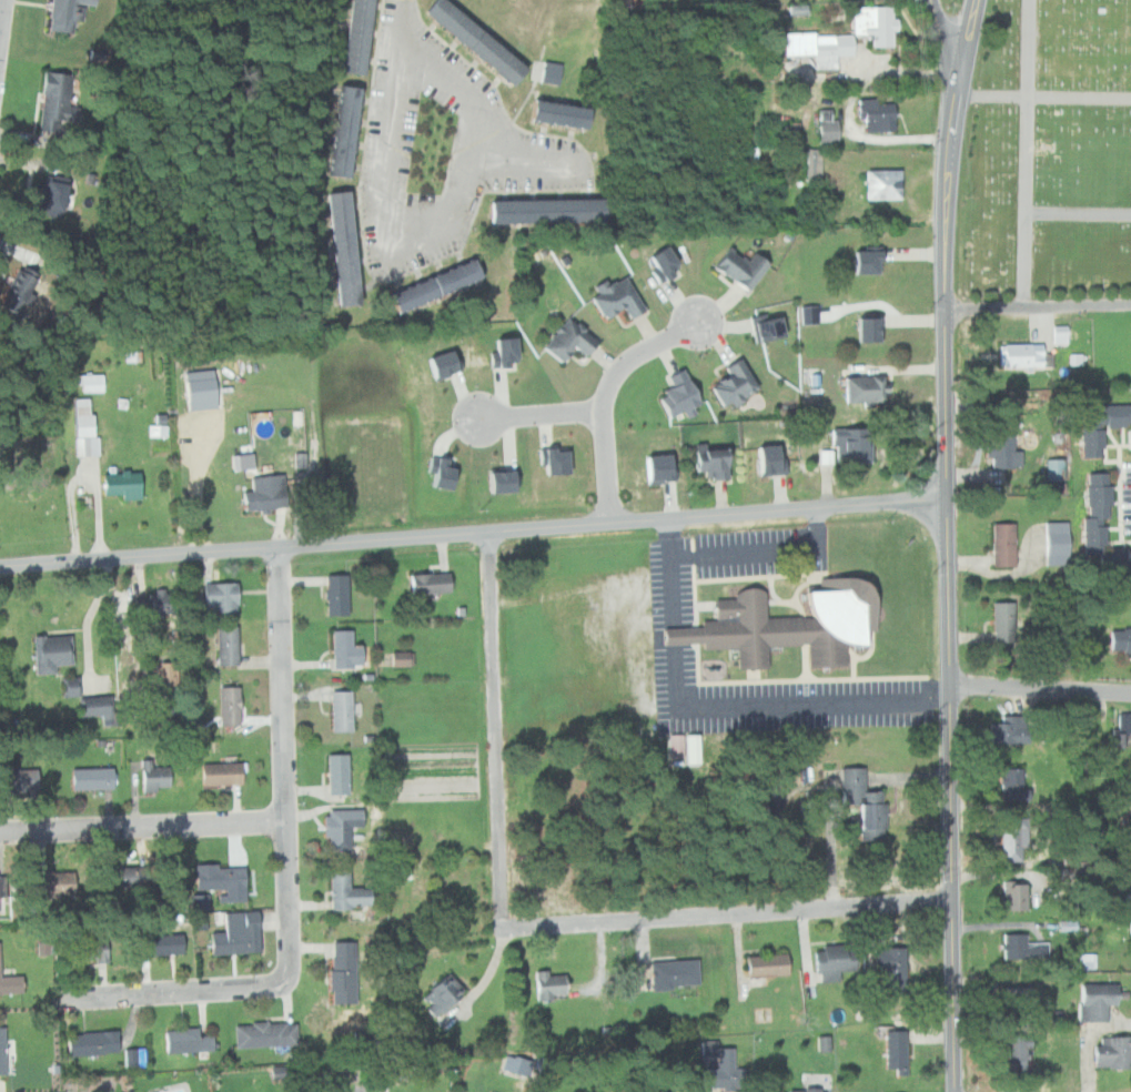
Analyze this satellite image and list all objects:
building: (68, 12)
road: (1, 17)
building: (881, 23)
road: (398, 24)
building: (357, 33)
road: (946, 38)
building: (478, 39)
building: (820, 48)
building: (552, 72)
road: (1042, 95)
building: (57, 101)
building: (562, 112)
building: (880, 114)
building: (829, 125)
building: (346, 127)
road: (1029, 153)
park: (1050, 156)
road: (521, 161)
building: (816, 164)
building: (886, 183)
building: (57, 193)
building: (551, 210)
road: (1079, 213)
road: (426, 243)
building: (345, 247)
building: (658, 262)
building: (861, 262)
building: (735, 267)
building: (441, 283)
building: (20, 289)
building: (614, 299)
road: (1040, 306)
building: (806, 314)
building: (765, 327)
building: (864, 330)
building: (1062, 334)
building: (566, 340)
building: (498, 351)
building: (1021, 355)
building: (1073, 358)
building: (441, 363)
building: (94, 382)
building: (730, 383)
building: (206, 388)
building: (861, 388)
building: (675, 394)
road: (604, 397)
road: (541, 415)
building: (88, 427)
building: (1104, 427)
building: (161, 431)
building: (848, 446)
building: (1003, 451)
building: (760, 459)
building: (246, 461)
building: (551, 462)
building: (707, 462)
building: (650, 468)
building: (1058, 468)
building: (438, 474)
building: (493, 482)
building: (129, 484)
road: (198, 484)
building: (271, 493)
building: (1102, 524)
road: (474, 533)
building: (1060, 542)
road: (949, 544)
building: (1007, 544)
road: (764, 550)
road: (671, 572)
building: (425, 583)
building: (342, 595)
building: (226, 597)
building: (162, 601)
building: (1006, 621)
building: (782, 624)
road: (676, 634)
building: (1121, 640)
building: (232, 646)
building: (342, 648)
building: (55, 653)
building: (1068, 655)
building: (398, 657)
building: (129, 664)
building: (170, 674)
building: (74, 687)
road: (1041, 687)
building: (226, 704)
road: (786, 704)
building: (101, 707)
building: (337, 709)
building: (1010, 728)
building: (1123, 729)
building: (689, 747)
building: (673, 750)
building: (218, 772)
building: (334, 772)
building: (151, 775)
building: (90, 777)
building: (17, 779)
building: (1016, 783)
building: (781, 785)
building: (864, 802)
building: (1130, 802)
building: (1092, 819)
building: (337, 825)
road: (141, 830)
building: (1017, 842)
road: (284, 872)
building: (108, 874)
building: (218, 880)
building: (49, 881)
building: (30, 883)
building: (344, 890)
building: (1013, 894)
building: (198, 900)
building: (1064, 923)
road: (532, 927)
building: (233, 933)
building: (156, 943)
building: (1023, 946)
building: (83, 949)
building: (337, 949)
building: (836, 960)
building: (1085, 960)
building: (770, 964)
building: (893, 965)
building: (677, 972)
building: (9, 983)
building: (547, 983)
building: (339, 984)
building: (438, 991)
building: (1099, 998)
building: (1022, 1000)
building: (262, 1033)
building: (184, 1041)
building: (89, 1042)
building: (821, 1042)
building: (706, 1046)
building: (899, 1049)
building: (1114, 1051)
building: (1013, 1052)
building: (1024, 1052)
building: (1, 1053)
building: (133, 1055)
building: (718, 1069)
building: (337, 1091)
building: (811, 1091)

